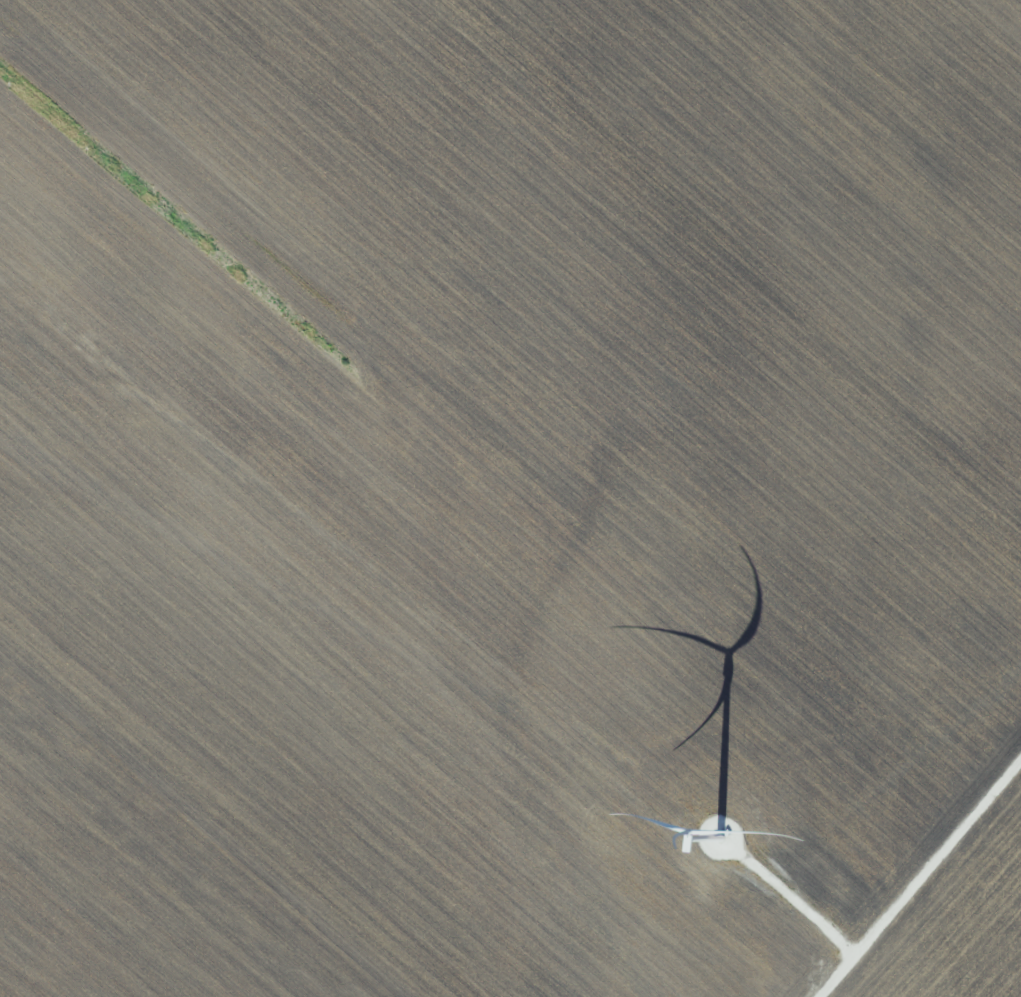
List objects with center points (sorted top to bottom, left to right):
wind turbine: (721, 836)

